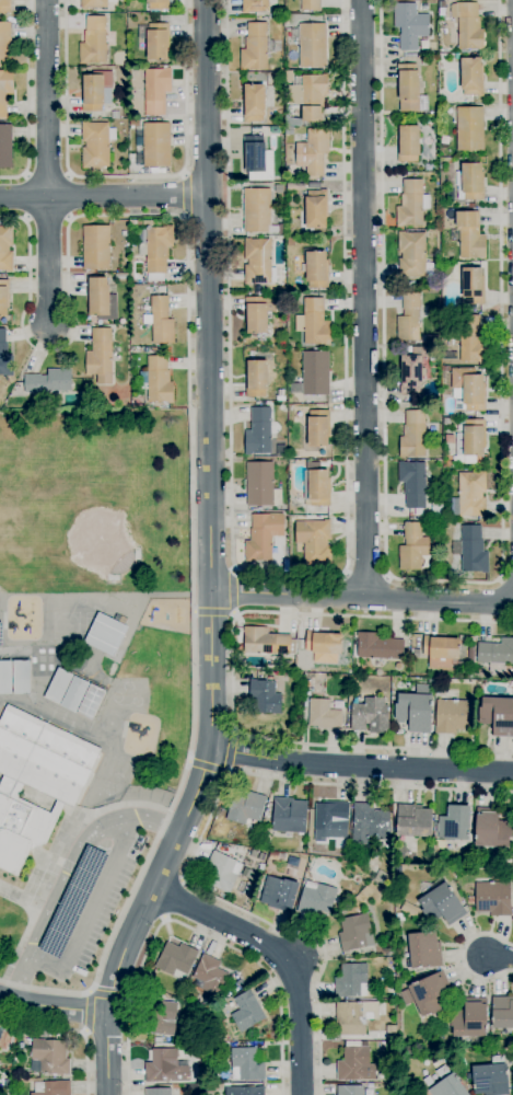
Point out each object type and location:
building: (93, 3)
building: (158, 4)
building: (310, 4)
building: (254, 5)
building: (4, 7)
building: (410, 25)
building: (468, 25)
building: (93, 41)
building: (155, 41)
building: (5, 44)
building: (312, 46)
building: (255, 47)
building: (471, 77)
building: (408, 87)
building: (5, 90)
building: (156, 90)
building: (96, 91)
building: (310, 95)
road: (46, 99)
road: (26, 100)
building: (254, 103)
building: (115, 115)
building: (135, 124)
building: (469, 128)
building: (273, 130)
building: (289, 131)
building: (444, 140)
building: (96, 143)
building: (408, 143)
building: (153, 145)
building: (5, 146)
building: (313, 151)
building: (254, 153)
building: (162, 171)
road: (126, 175)
building: (470, 182)
building: (314, 185)
building: (295, 187)
building: (279, 188)
road: (185, 195)
road: (104, 197)
building: (411, 204)
building: (316, 209)
building: (257, 211)
building: (136, 223)
building: (281, 229)
building: (470, 234)
building: (290, 241)
building: (96, 247)
building: (5, 249)
building: (156, 251)
building: (411, 254)
road: (48, 261)
building: (258, 262)
building: (316, 269)
building: (121, 277)
building: (473, 285)
building: (4, 297)
building: (290, 299)
road: (363, 299)
building: (101, 300)
building: (257, 313)
building: (409, 318)
building: (161, 321)
building: (314, 322)
building: (471, 341)
building: (100, 353)
building: (4, 356)
building: (411, 370)
building: (313, 374)
building: (256, 378)
building: (156, 380)
building: (49, 381)
building: (467, 390)
building: (280, 395)
building: (1, 403)
building: (318, 428)
building: (258, 433)
building: (412, 435)
building: (470, 440)
road: (191, 441)
building: (281, 450)
building: (412, 483)
building: (261, 484)
building: (316, 487)
building: (470, 494)
building: (436, 509)
building: (263, 535)
building: (314, 543)
building: (412, 546)
building: (473, 550)
road: (211, 557)
road: (365, 574)
road: (290, 576)
road: (445, 580)
road: (233, 590)
road: (362, 598)
road: (214, 612)
building: (106, 633)
building: (471, 641)
building: (267, 642)
building: (324, 643)
building: (376, 646)
building: (415, 654)
building: (442, 654)
building: (497, 654)
building: (470, 656)
building: (288, 665)
road: (232, 672)
building: (5, 678)
building: (21, 678)
building: (430, 682)
building: (307, 683)
building: (58, 685)
building: (74, 694)
building: (265, 696)
building: (91, 702)
building: (413, 712)
building: (324, 715)
building: (370, 715)
building: (498, 715)
building: (453, 716)
road: (230, 750)
road: (206, 765)
road: (360, 766)
building: (36, 781)
building: (245, 807)
building: (289, 815)
building: (330, 820)
building: (413, 820)
building: (370, 823)
building: (454, 826)
building: (492, 831)
road: (200, 834)
building: (258, 846)
building: (273, 854)
building: (261, 867)
building: (222, 872)
road: (69, 875)
building: (279, 894)
building: (492, 898)
road: (174, 899)
building: (316, 899)
building: (442, 906)
road: (91, 910)
building: (409, 910)
parking lot: (91, 911)
building: (399, 918)
road: (191, 929)
building: (355, 933)
building: (423, 949)
road: (284, 955)
road: (463, 956)
road: (499, 958)
building: (176, 960)
building: (209, 977)
building: (351, 980)
building: (241, 983)
road: (110, 994)
building: (430, 994)
road: (54, 1006)
road: (89, 1012)
building: (247, 1012)
building: (502, 1013)
building: (161, 1017)
building: (354, 1017)
building: (469, 1018)
road: (74, 1029)
building: (390, 1034)
building: (4, 1039)
building: (158, 1039)
building: (393, 1046)
building: (49, 1056)
building: (246, 1064)
building: (355, 1064)
building: (165, 1067)
building: (490, 1077)
building: (428, 1081)
building: (447, 1084)
building: (51, 1087)
building: (350, 1090)
building: (244, 1091)
building: (161, 1092)

